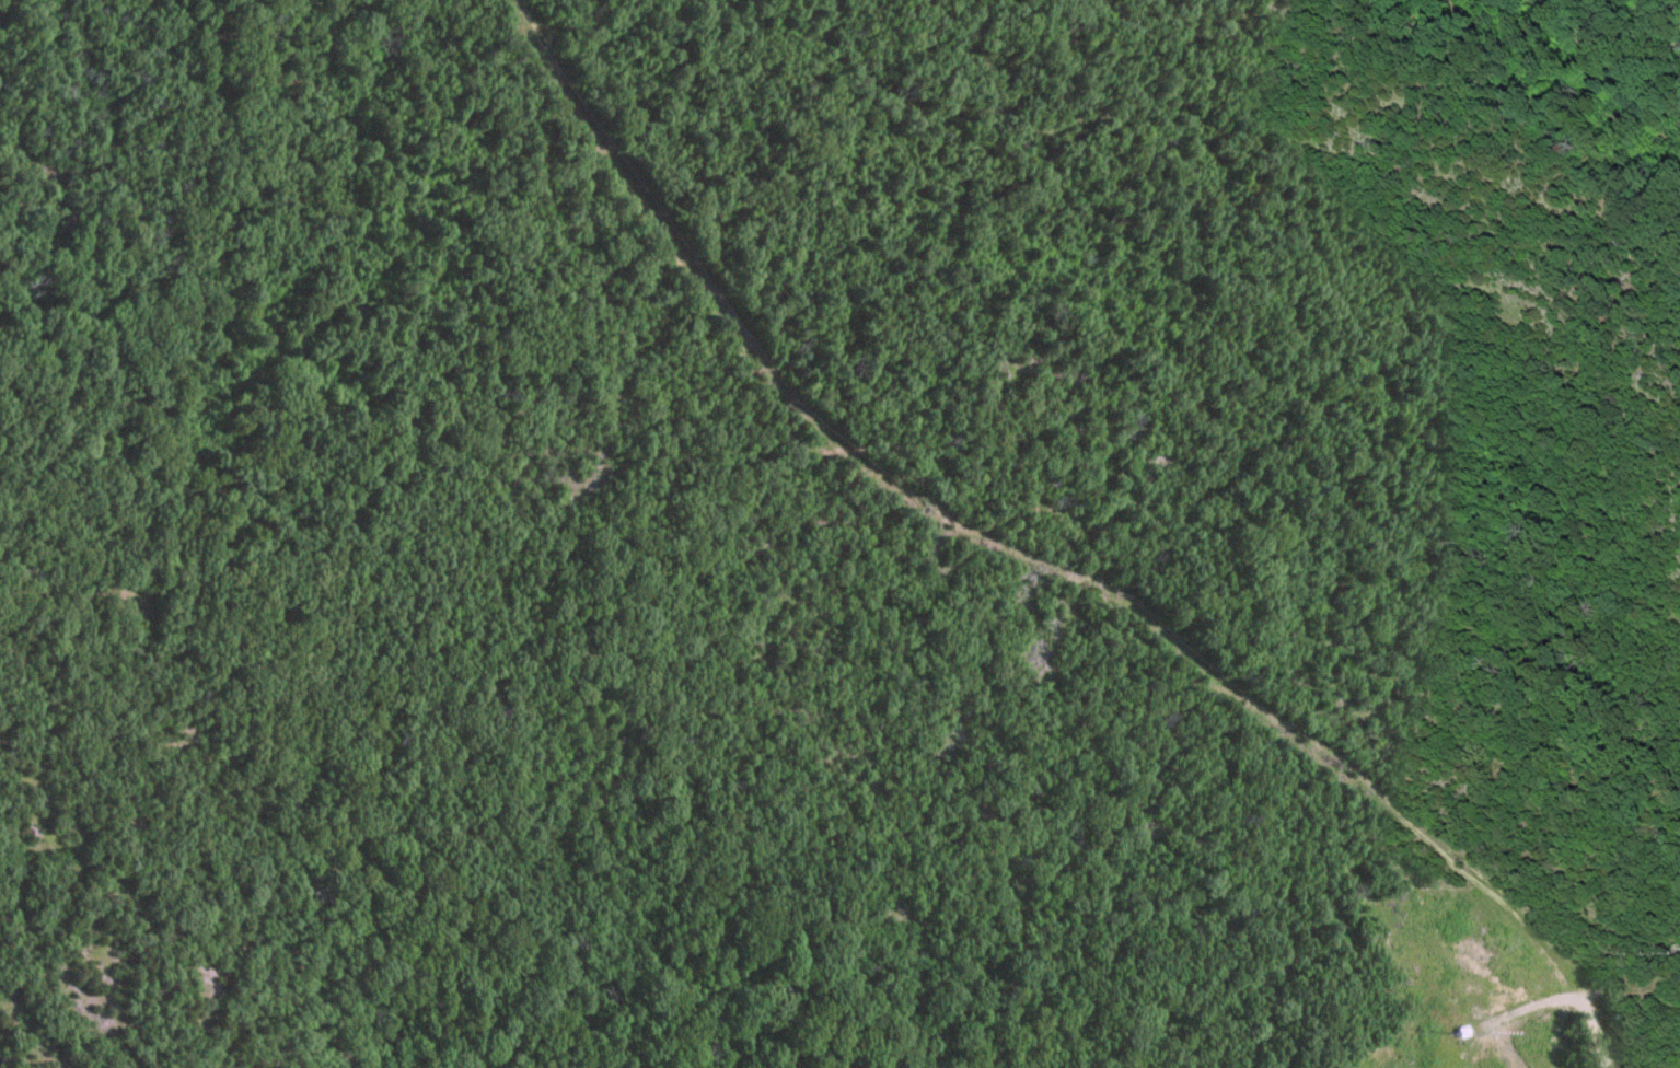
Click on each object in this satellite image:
building: (1459, 1033)

